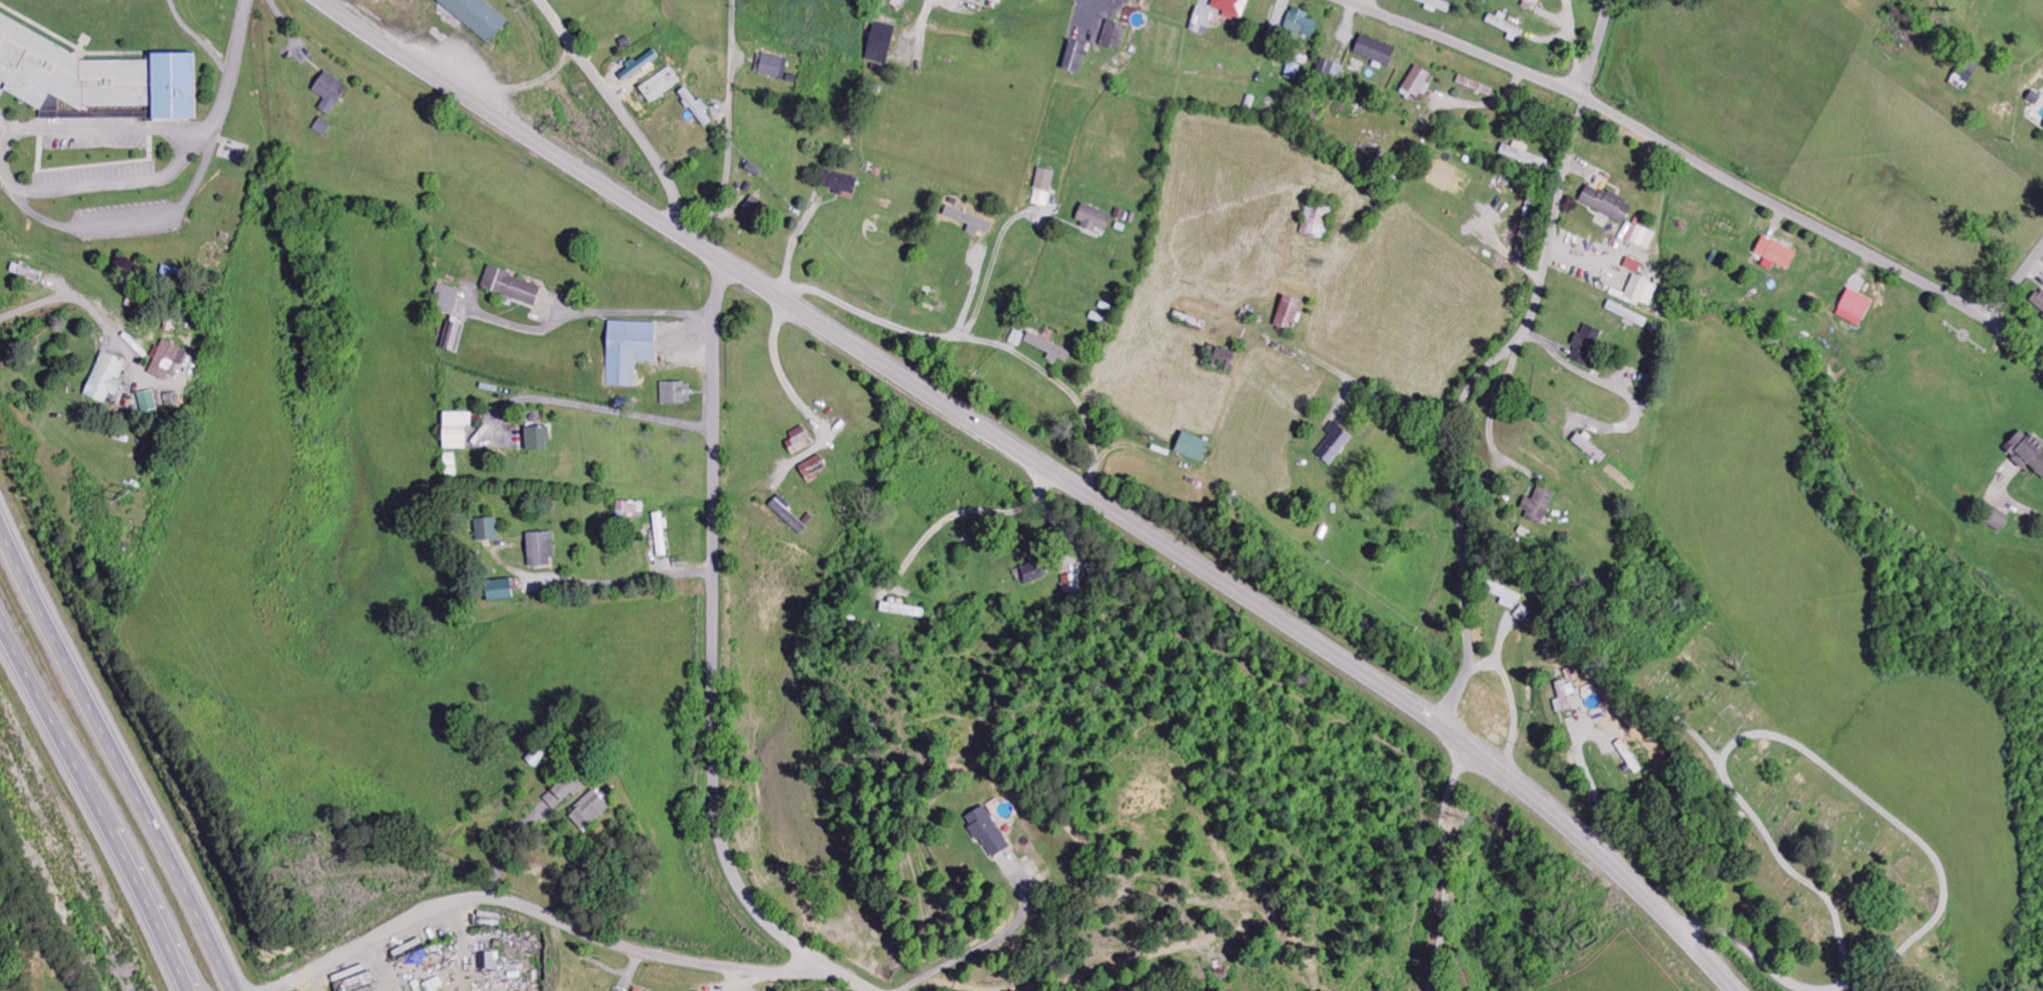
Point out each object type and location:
building: (978, 0)
building: (997, 1)
building: (1530, 4)
building: (1437, 5)
building: (475, 17)
building: (1201, 21)
building: (1299, 24)
building: (1505, 27)
building: (1113, 35)
building: (879, 43)
building: (1374, 50)
building: (1074, 57)
building: (770, 66)
building: (1970, 66)
building: (1330, 69)
building: (94, 77)
building: (1417, 84)
building: (660, 86)
building: (1474, 86)
building: (329, 93)
building: (2034, 98)
building: (49, 108)
road: (730, 121)
building: (321, 127)
road: (524, 135)
road: (637, 135)
building: (1523, 155)
road: (1700, 162)
building: (754, 169)
building: (1044, 180)
building: (843, 183)
building: (1040, 198)
building: (1605, 204)
road: (666, 217)
building: (1092, 218)
building: (969, 221)
building: (1315, 221)
building: (1632, 231)
building: (1643, 238)
building: (1775, 254)
building: (1632, 265)
building: (25, 273)
road: (2015, 285)
building: (510, 287)
building: (1640, 292)
building: (446, 299)
building: (2039, 300)
building: (1854, 308)
building: (1287, 313)
building: (1626, 314)
building: (454, 335)
building: (1016, 339)
building: (1585, 345)
building: (1048, 349)
building: (628, 351)
building: (1222, 360)
building: (167, 361)
road: (1495, 362)
building: (105, 378)
building: (674, 393)
building: (147, 402)
building: (455, 430)
building: (536, 439)
building: (797, 441)
building: (1334, 444)
building: (1191, 446)
building: (2026, 452)
building: (450, 465)
building: (813, 469)
building: (1538, 505)
building: (630, 509)
building: (786, 515)
building: (1997, 520)
building: (486, 530)
building: (660, 535)
building: (539, 549)
building: (1034, 572)
building: (1072, 584)
building: (496, 591)
building: (1504, 595)
road: (1253, 602)
building: (902, 609)
road: (713, 663)
building: (1564, 696)
building: (533, 755)
road: (113, 759)
building: (557, 790)
building: (582, 809)
road: (88, 812)
park: (1801, 826)
building: (987, 832)
road: (550, 920)
building: (485, 960)
building: (428, 985)
building: (635, 990)

